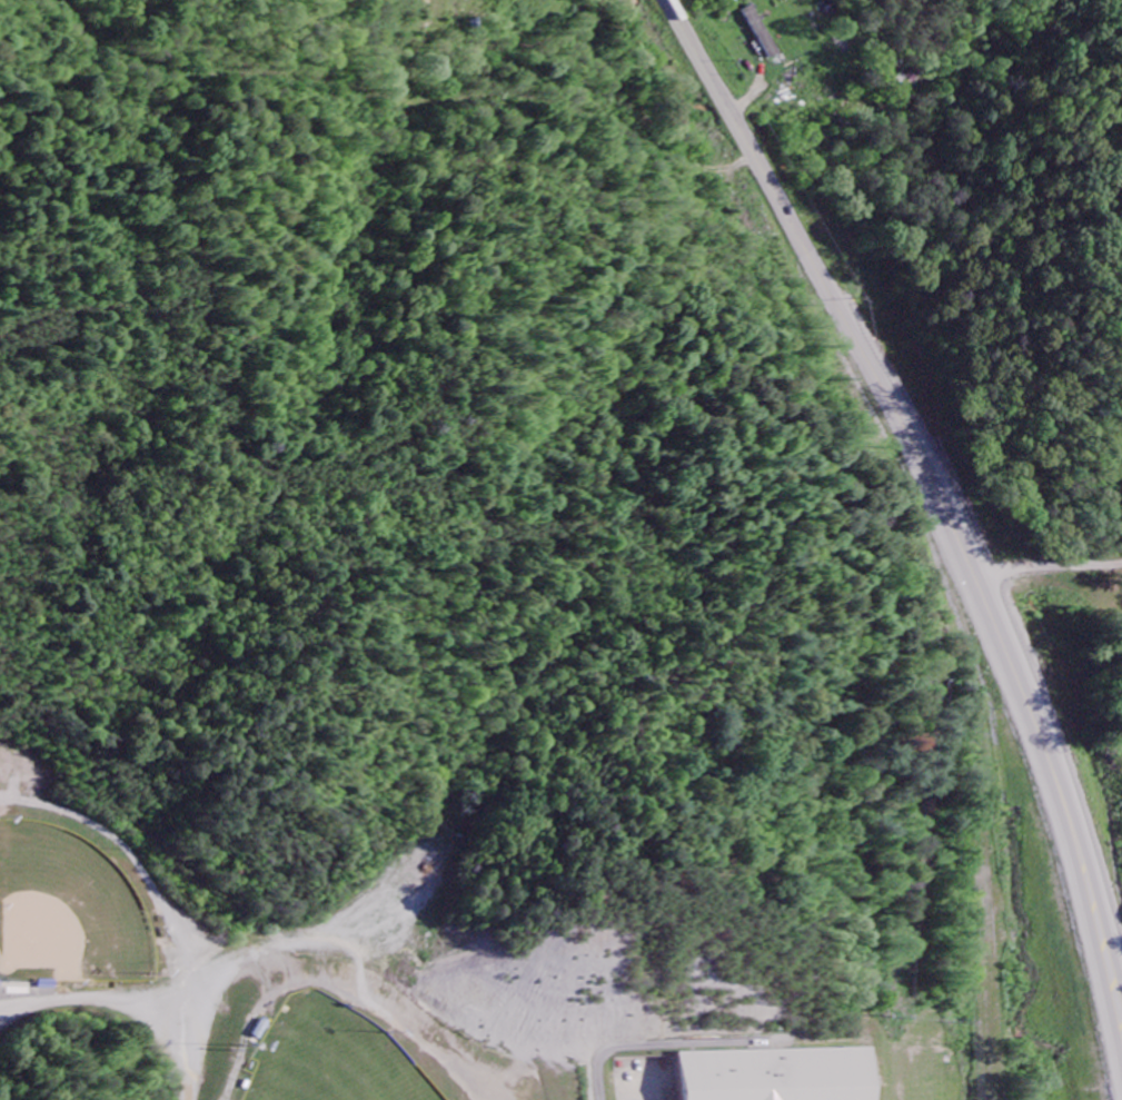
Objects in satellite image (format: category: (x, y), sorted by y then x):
building: (759, 33)
road: (1054, 48)
road: (915, 95)
road: (360, 184)
road: (936, 499)
building: (785, 1076)

